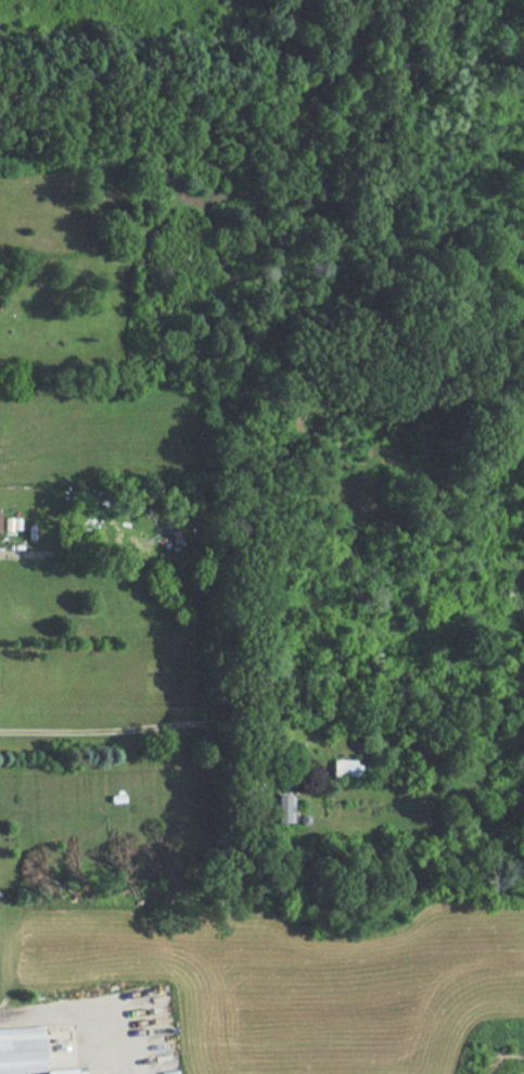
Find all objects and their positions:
road: (261, 71)
building: (0, 520)
road: (24, 568)
road: (124, 730)
building: (346, 768)
building: (283, 807)
road: (67, 1009)
building: (22, 1048)
building: (62, 1071)

